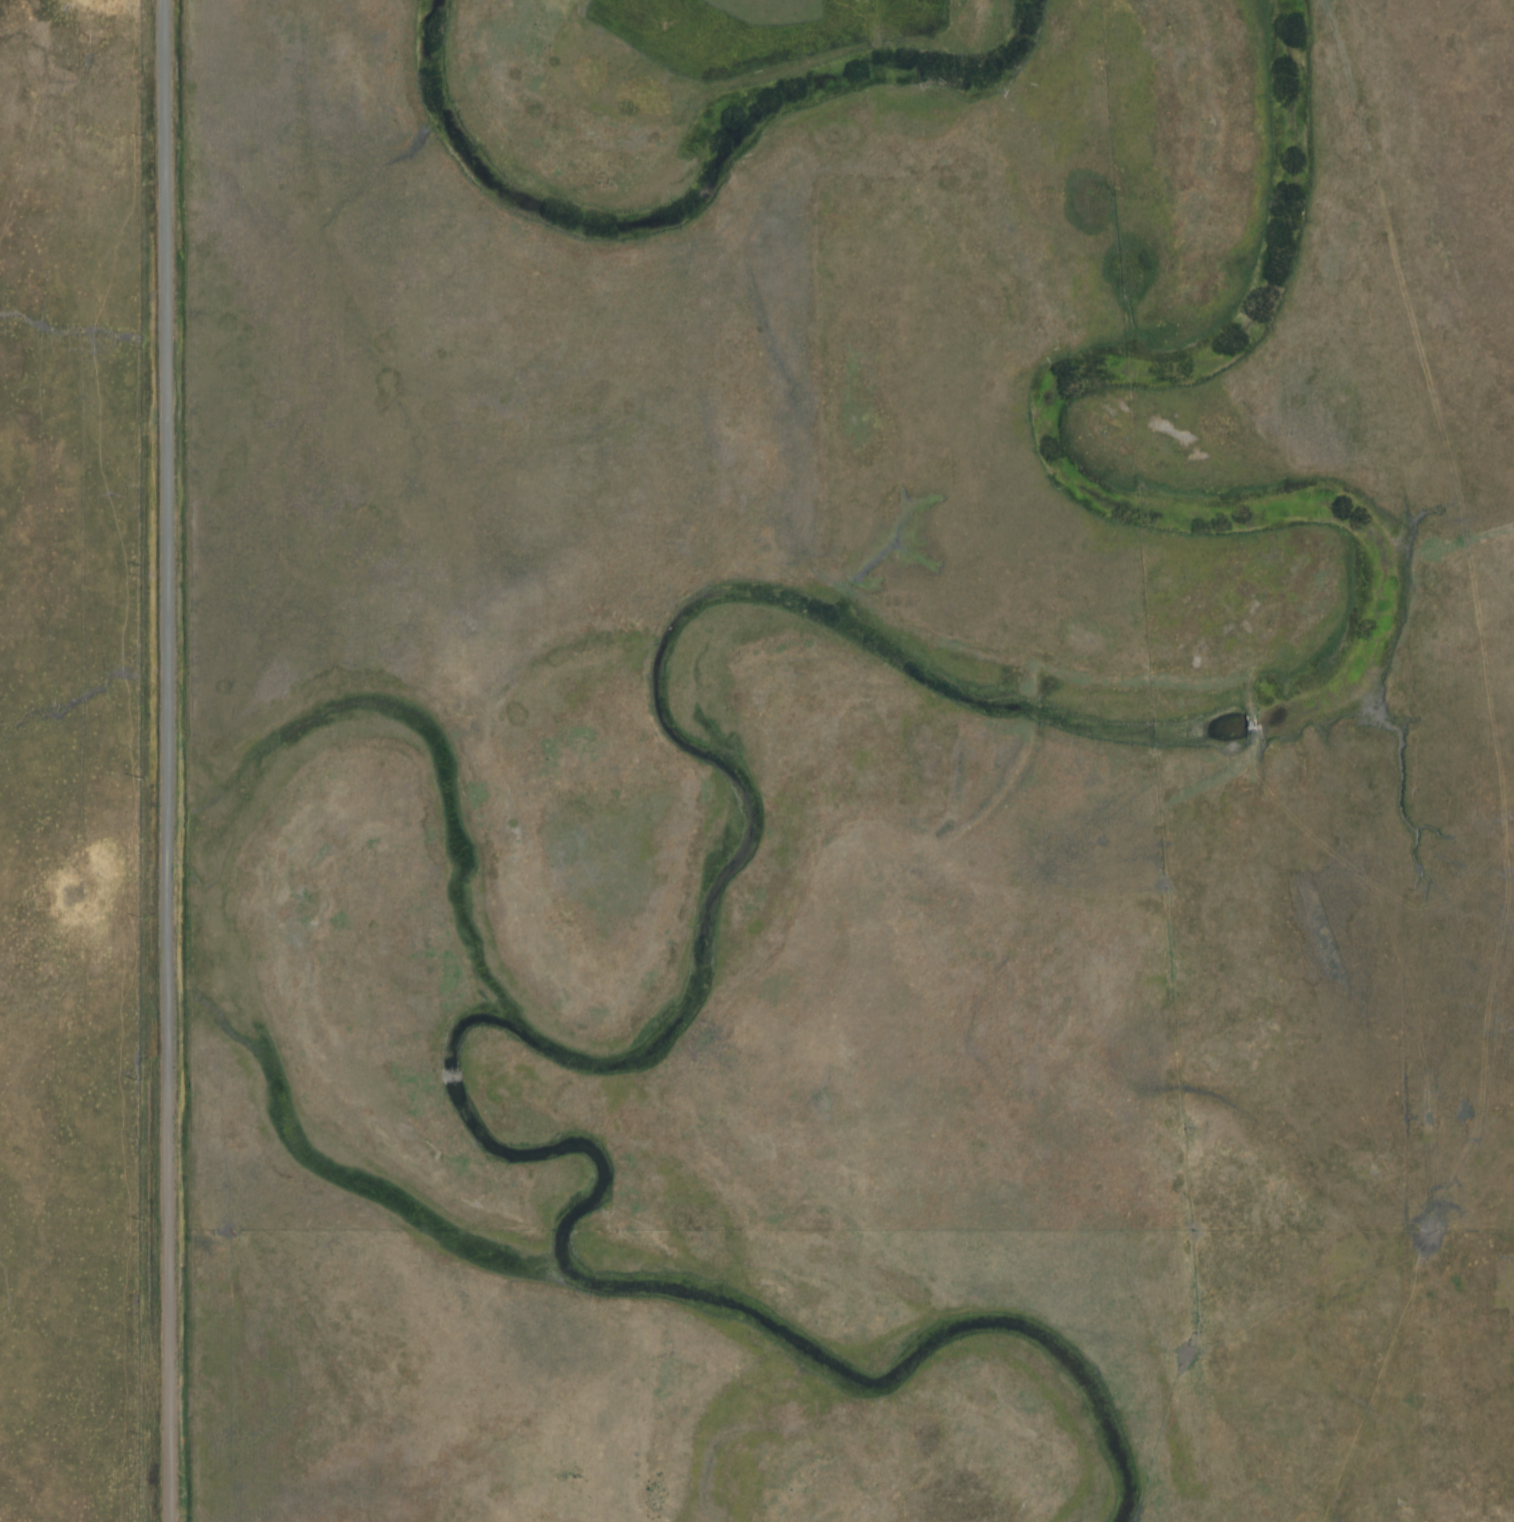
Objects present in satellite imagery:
road: (1408, 292)
road: (1492, 689)
road: (174, 760)
road: (1490, 1138)

